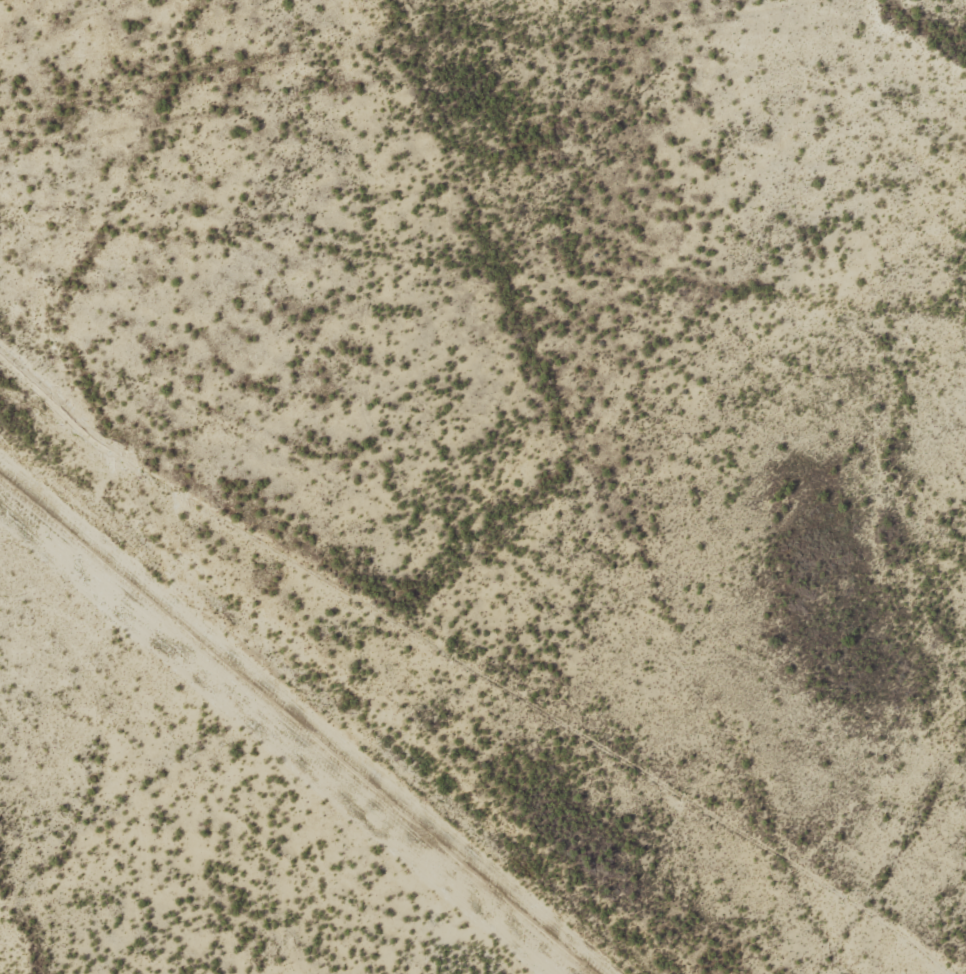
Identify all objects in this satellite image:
road: (899, 854)

